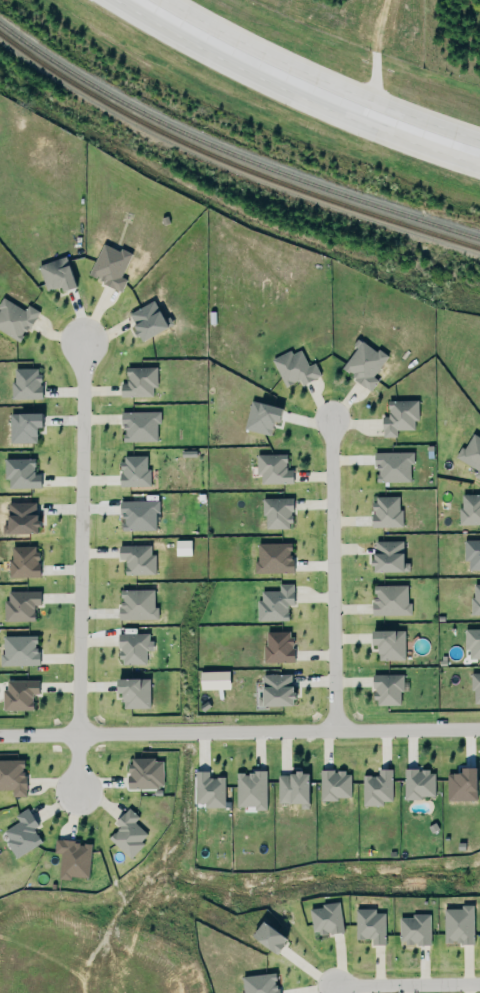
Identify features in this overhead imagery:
road: (309, 84)
railway: (229, 155)
railway: (229, 165)
building: (110, 266)
building: (57, 274)
building: (15, 319)
building: (148, 321)
building: (364, 364)
building: (295, 368)
building: (139, 382)
building: (26, 384)
building: (262, 417)
building: (400, 417)
building: (140, 426)
building: (24, 427)
building: (472, 454)
building: (394, 467)
building: (274, 469)
building: (134, 471)
building: (21, 473)
building: (470, 509)
building: (387, 511)
building: (278, 513)
building: (139, 515)
building: (21, 518)
building: (184, 548)
building: (472, 554)
building: (389, 557)
building: (274, 558)
building: (138, 560)
building: (24, 562)
road: (75, 567)
road: (326, 573)
building: (391, 600)
building: (476, 600)
building: (275, 604)
building: (138, 605)
building: (21, 606)
building: (472, 643)
building: (389, 644)
building: (278, 647)
building: (133, 649)
building: (20, 651)
building: (214, 680)
building: (476, 688)
building: (276, 690)
building: (388, 690)
building: (134, 692)
building: (20, 695)
road: (240, 734)
building: (145, 773)
building: (13, 777)
building: (419, 784)
building: (335, 785)
building: (462, 785)
building: (293, 788)
building: (378, 788)
building: (209, 790)
building: (252, 790)
building: (22, 834)
building: (128, 834)
building: (73, 859)
building: (326, 920)
building: (371, 926)
building: (459, 926)
building: (415, 930)
building: (268, 938)
building: (261, 984)
road: (403, 986)

